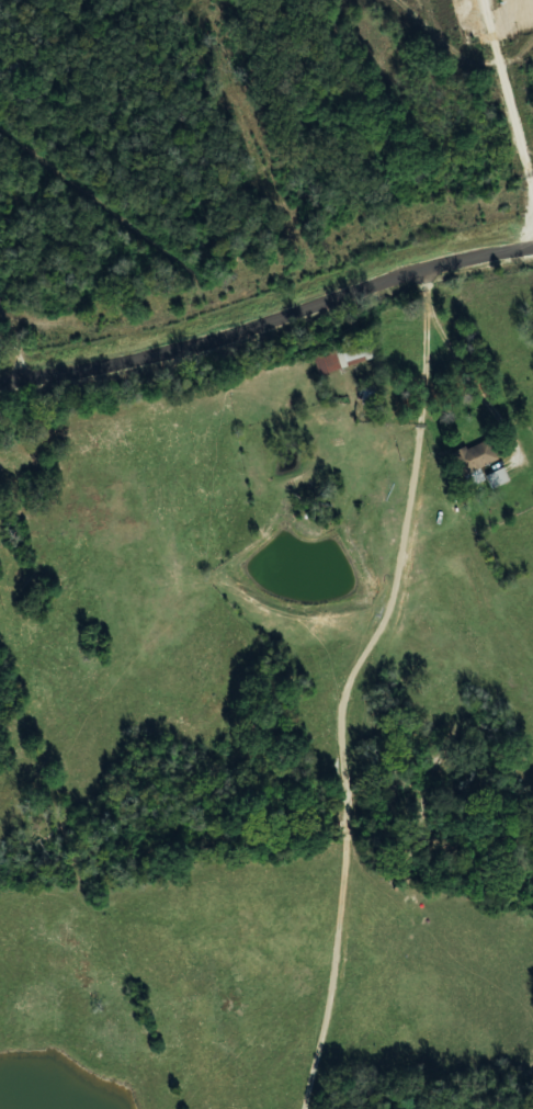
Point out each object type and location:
road: (426, 292)
road: (269, 322)
road: (455, 362)
road: (339, 705)

